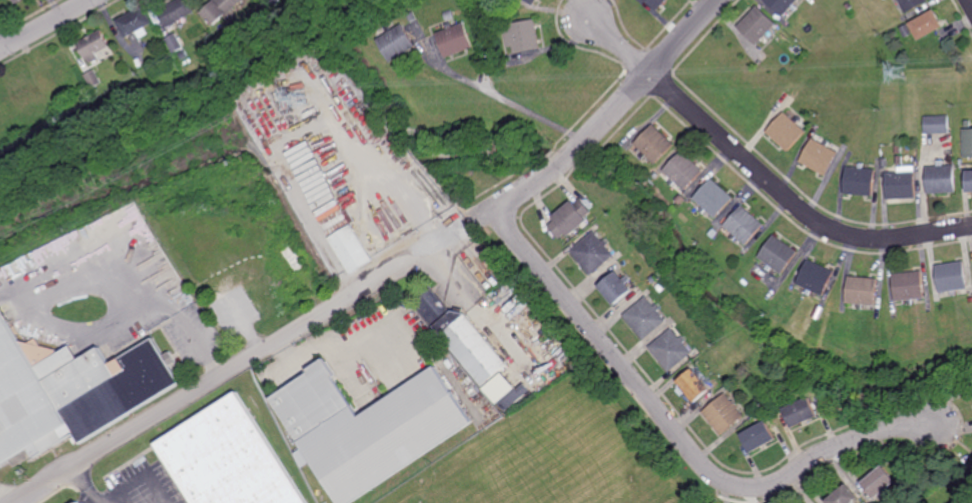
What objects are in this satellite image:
road: (971, 0)
building: (17, 1)
building: (275, 1)
building: (532, 1)
building: (656, 3)
building: (911, 4)
building: (782, 5)
building: (850, 5)
building: (218, 9)
building: (176, 12)
building: (448, 15)
building: (411, 16)
building: (136, 22)
road: (45, 24)
building: (758, 24)
building: (926, 24)
building: (906, 30)
building: (523, 36)
building: (454, 39)
road: (3, 40)
building: (395, 42)
building: (175, 43)
building: (94, 45)
road: (619, 45)
power tower: (899, 75)
building: (92, 78)
power tower: (294, 99)
road: (511, 103)
road: (603, 121)
building: (968, 123)
building: (936, 124)
building: (787, 131)
building: (967, 142)
building: (655, 143)
building: (898, 149)
building: (819, 156)
building: (899, 160)
building: (884, 162)
building: (963, 163)
building: (684, 170)
building: (941, 178)
building: (859, 181)
building: (969, 181)
building: (900, 185)
building: (714, 198)
road: (791, 202)
building: (571, 218)
building: (745, 225)
road: (441, 226)
building: (715, 233)
building: (351, 249)
building: (594, 252)
building: (778, 254)
building: (293, 258)
road: (444, 273)
building: (816, 277)
building: (951, 277)
building: (656, 278)
building: (908, 286)
building: (663, 287)
building: (617, 288)
building: (862, 291)
road: (129, 292)
building: (970, 300)
building: (430, 306)
building: (646, 317)
building: (471, 347)
building: (672, 350)
road: (214, 378)
building: (695, 385)
building: (73, 391)
building: (513, 396)
building: (804, 414)
building: (726, 415)
building: (366, 430)
road: (681, 438)
building: (762, 438)
building: (742, 443)
building: (231, 460)
building: (881, 480)
road: (87, 485)
building: (846, 494)
building: (80, 502)
building: (809, 502)

